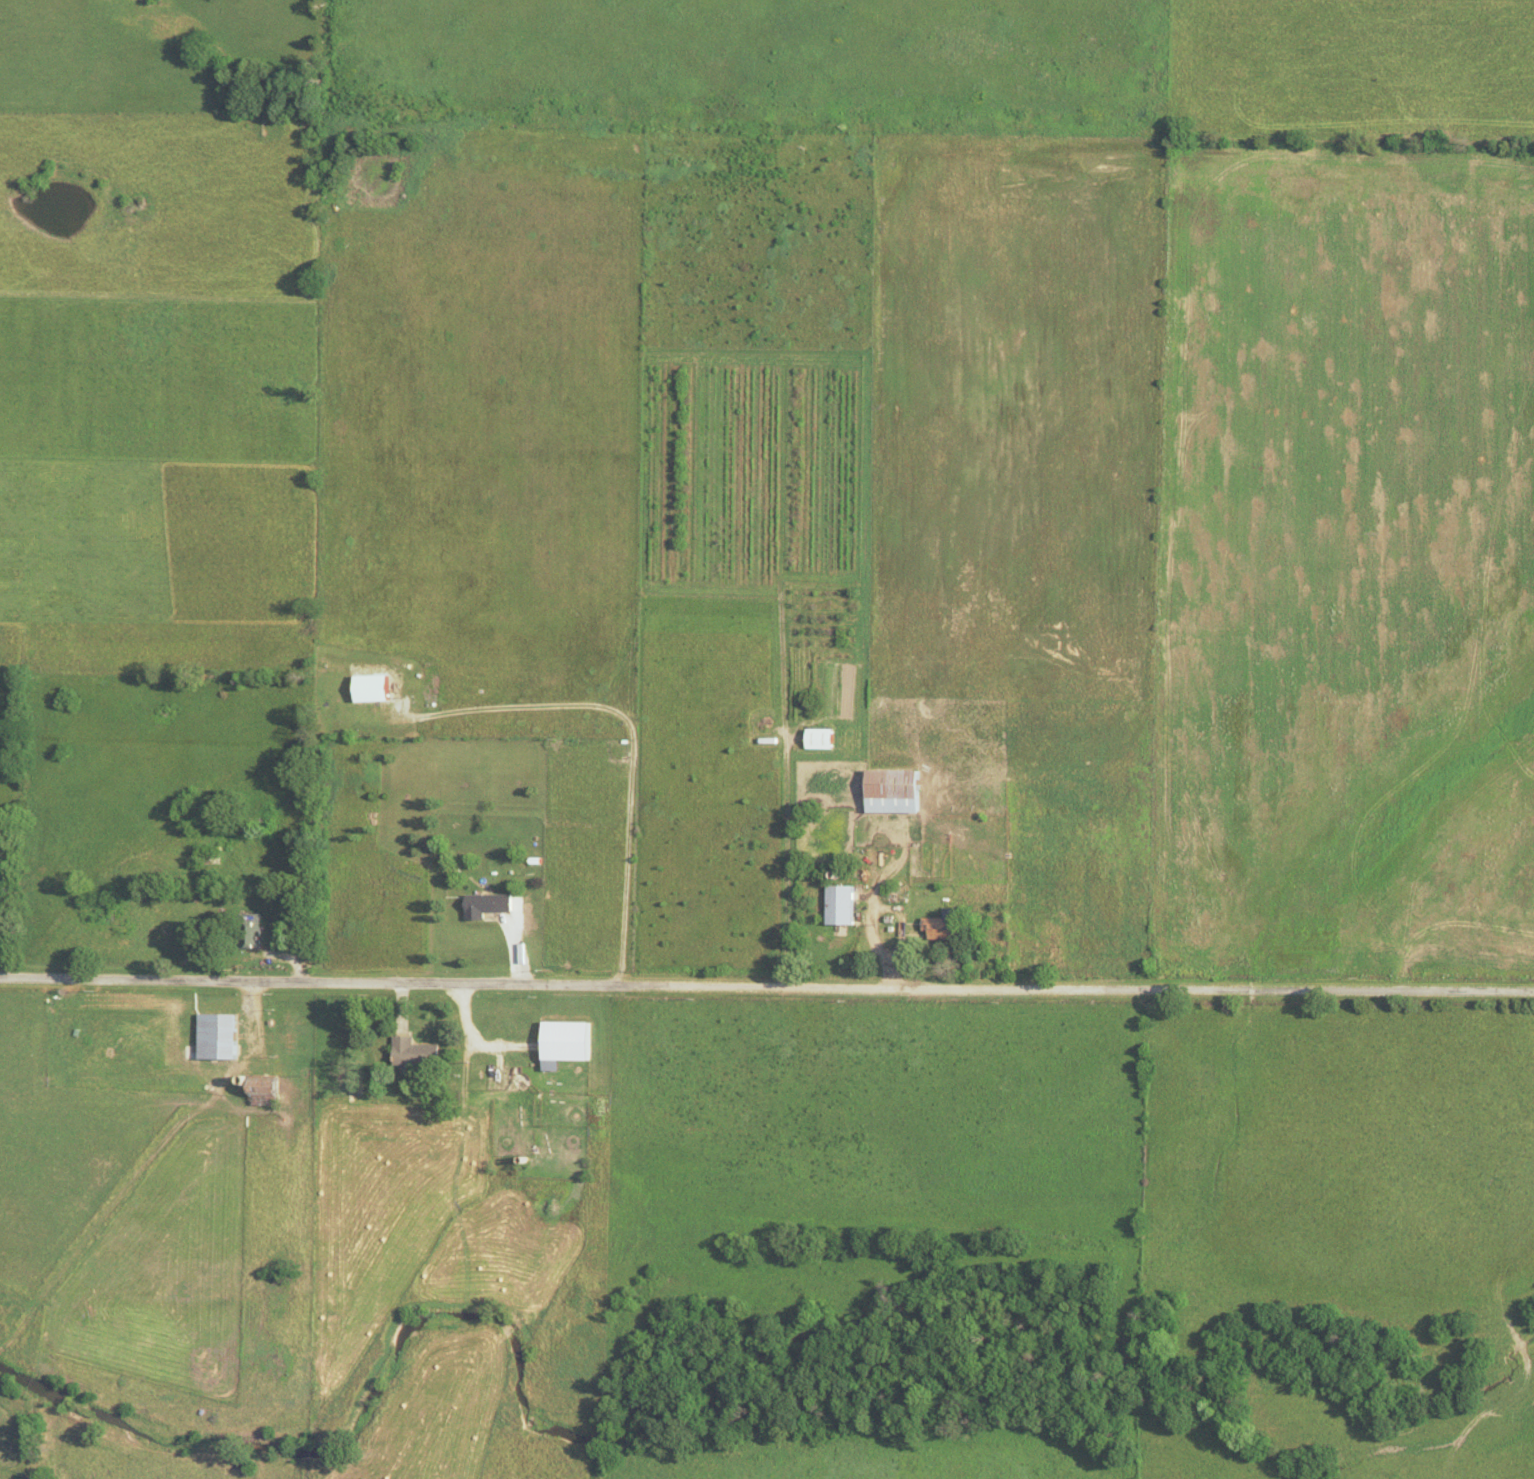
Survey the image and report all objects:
building: (373, 688)
building: (826, 738)
building: (897, 790)
building: (492, 905)
building: (845, 905)
road: (872, 926)
building: (944, 926)
building: (256, 931)
road: (766, 988)
building: (222, 1036)
building: (573, 1046)
building: (419, 1053)
building: (503, 1078)
building: (509, 1156)

